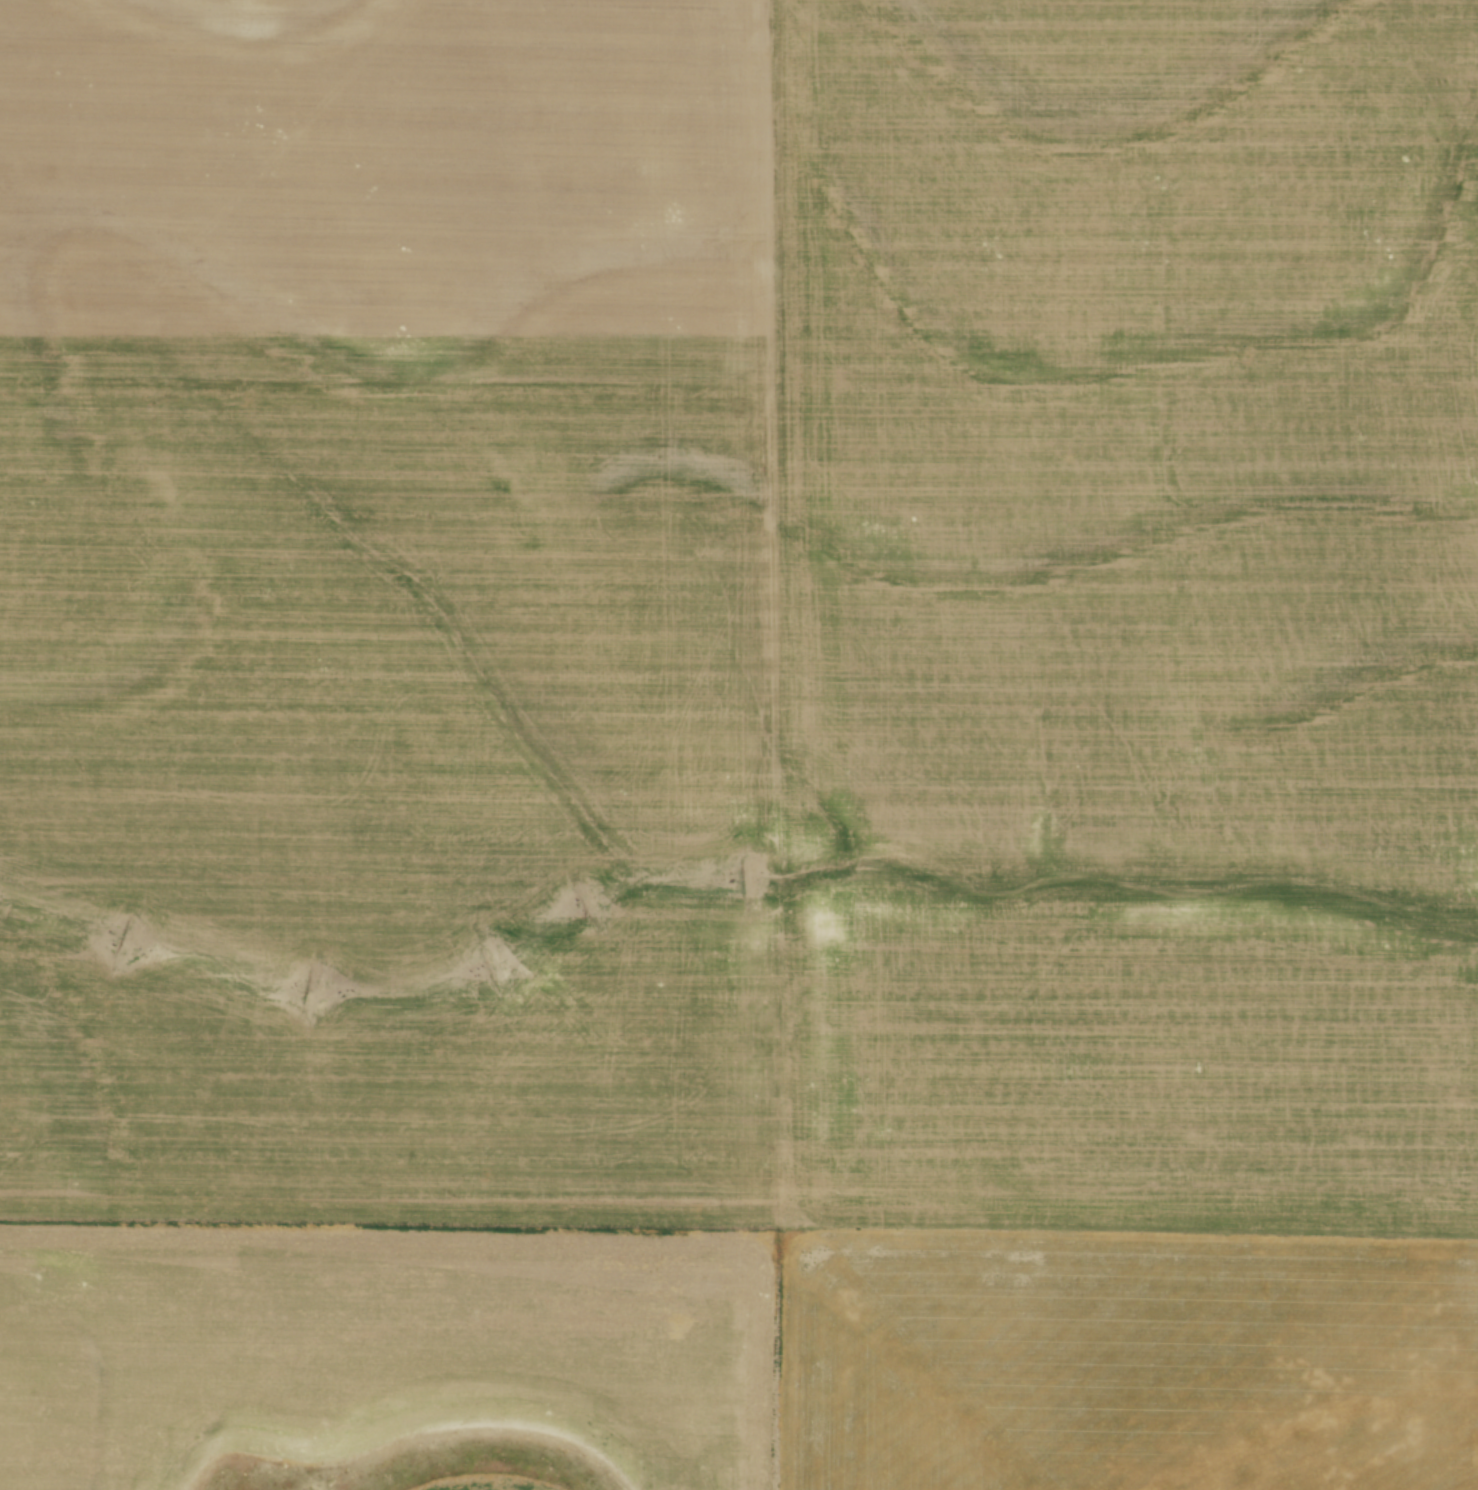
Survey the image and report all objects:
crop: (739, 745)

